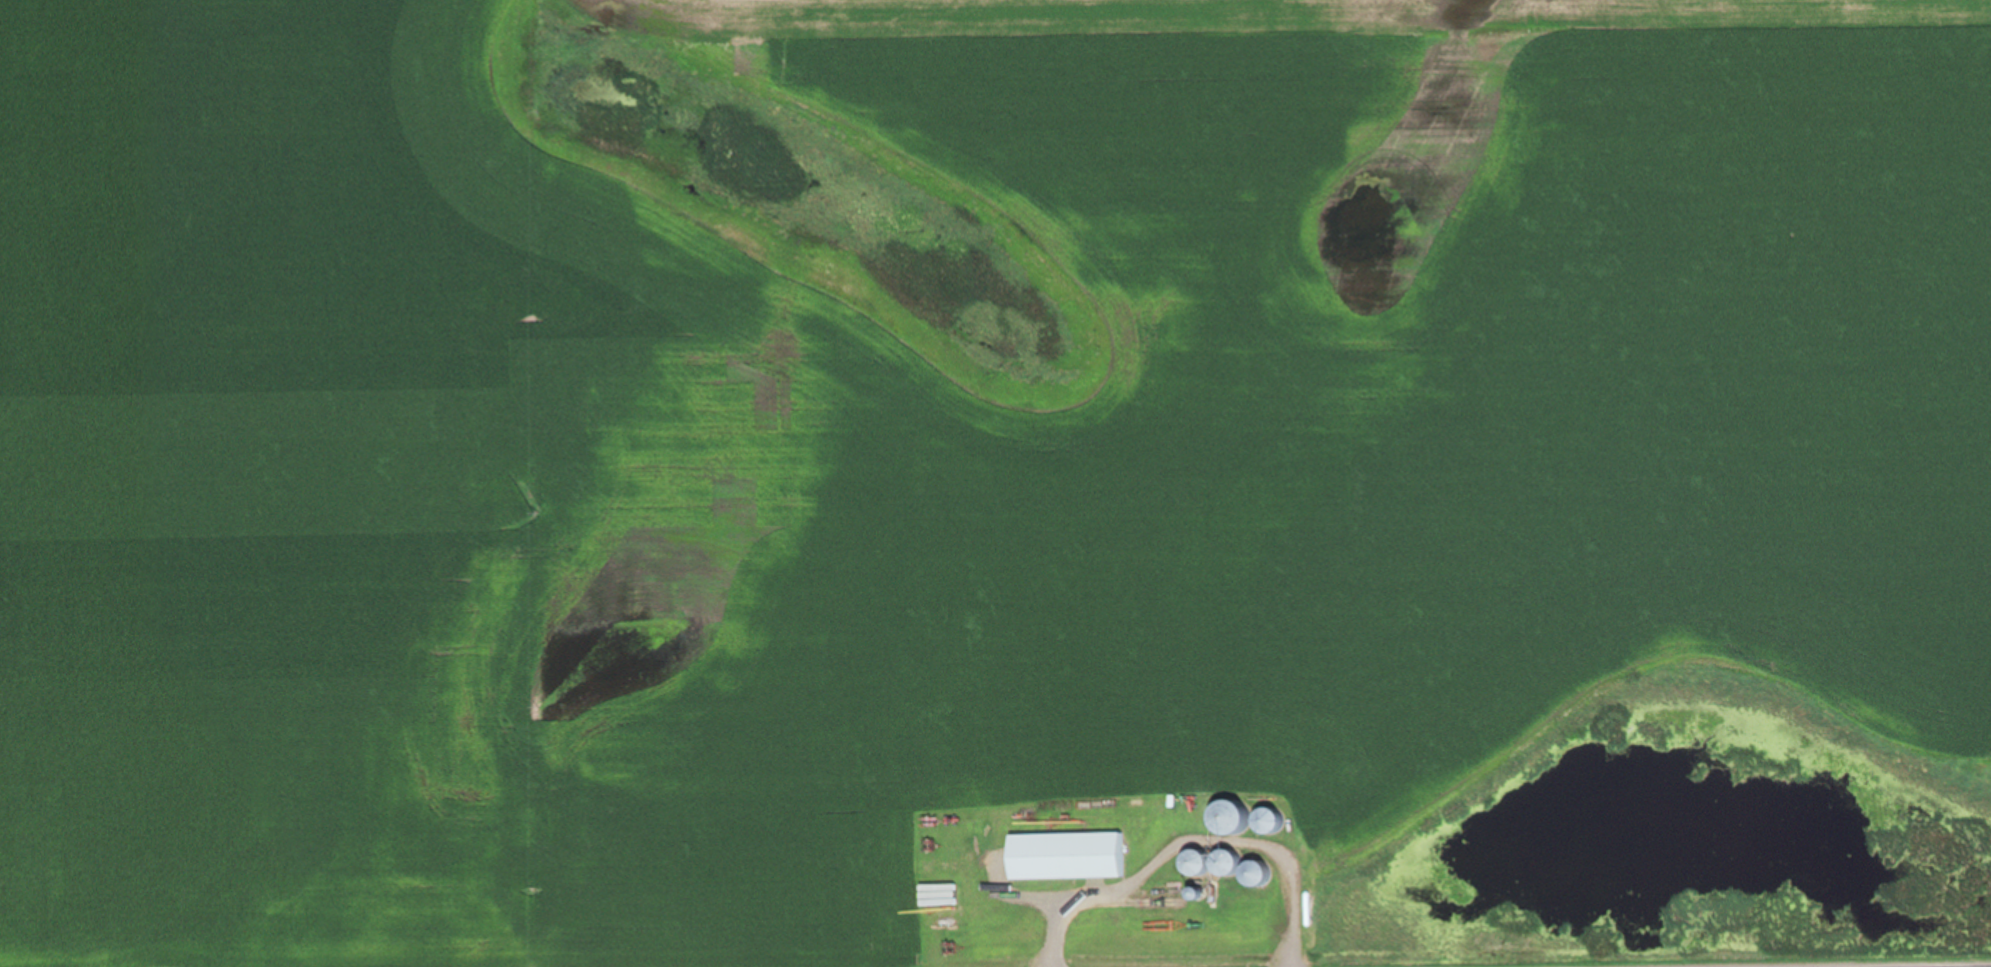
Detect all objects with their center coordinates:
building: (1223, 817)
building: (1266, 820)
road: (1192, 842)
building: (1066, 856)
building: (1206, 863)
building: (1255, 874)

